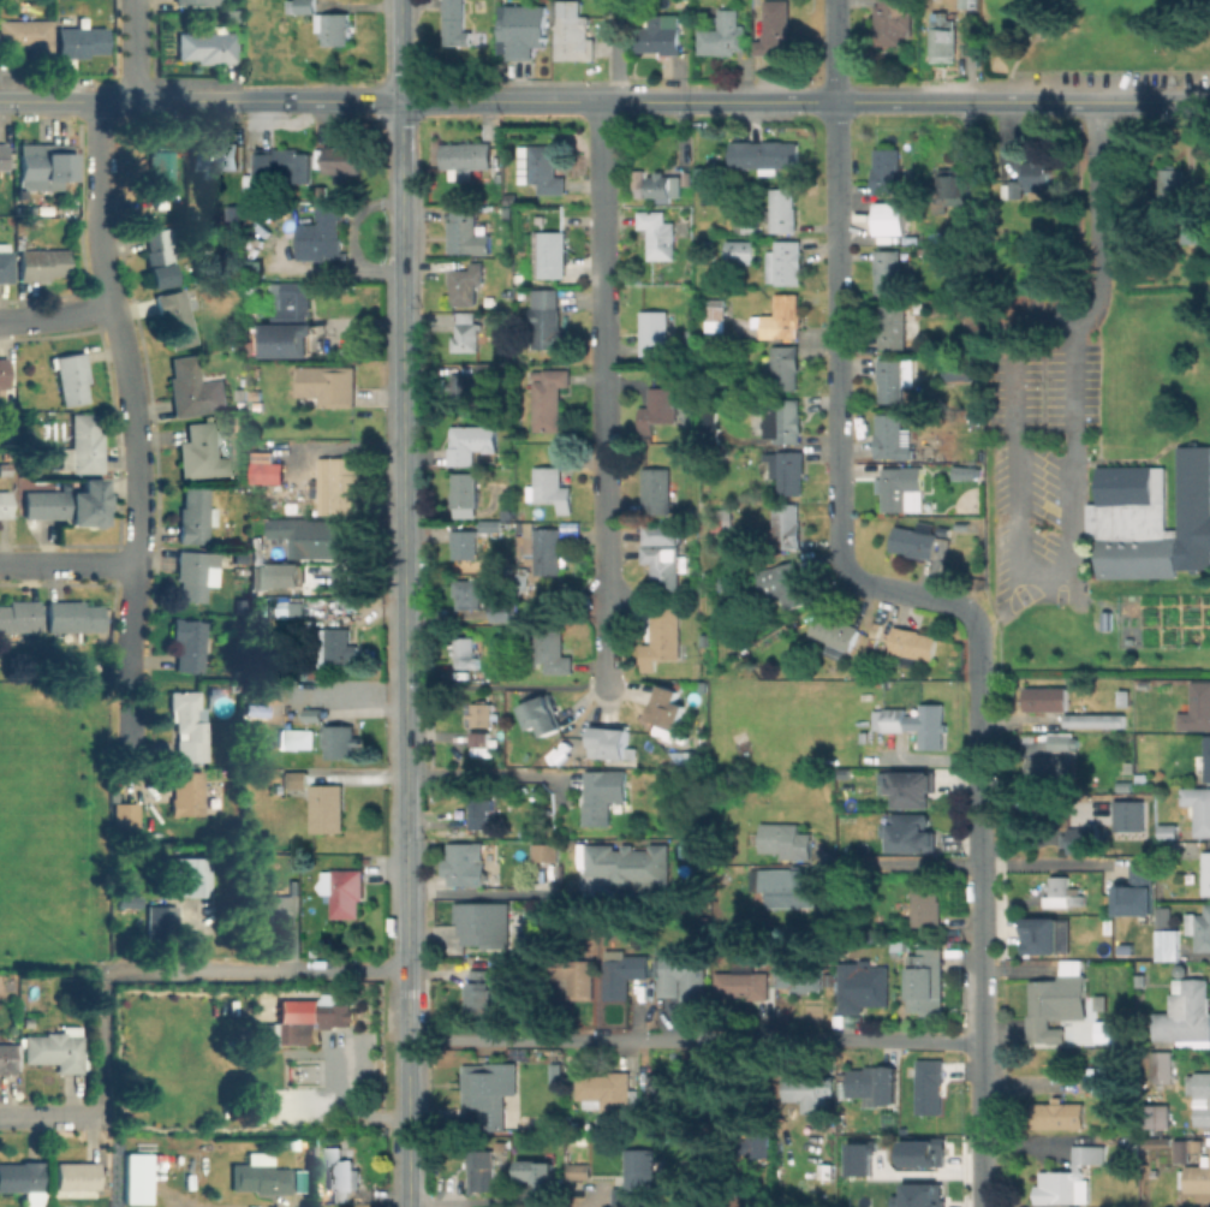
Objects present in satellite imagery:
building: (197, 0)
building: (485, 0)
building: (966, 4)
building: (302, 7)
building: (890, 20)
building: (455, 23)
building: (334, 26)
building: (775, 28)
building: (524, 30)
building: (26, 34)
building: (573, 34)
building: (725, 34)
building: (660, 36)
park: (1096, 37)
building: (81, 41)
building: (943, 41)
building: (207, 46)
road: (1027, 46)
road: (136, 50)
road: (834, 50)
road: (618, 52)
road: (255, 101)
road: (559, 102)
road: (908, 102)
building: (2, 155)
building: (215, 155)
building: (466, 155)
building: (765, 156)
building: (344, 160)
building: (284, 163)
building: (46, 166)
building: (886, 168)
building: (544, 170)
building: (1039, 173)
building: (638, 177)
building: (687, 177)
building: (159, 179)
building: (323, 185)
building: (664, 186)
building: (1172, 186)
building: (1008, 190)
building: (948, 191)
building: (511, 198)
building: (236, 210)
building: (782, 210)
building: (890, 219)
building: (746, 226)
building: (960, 227)
road: (1099, 227)
building: (463, 230)
building: (256, 232)
building: (322, 233)
building: (657, 233)
building: (1193, 233)
building: (740, 251)
building: (553, 254)
building: (160, 256)
building: (5, 262)
building: (785, 262)
building: (41, 263)
building: (312, 269)
building: (887, 270)
building: (466, 283)
building: (716, 311)
road: (55, 314)
building: (783, 316)
building: (174, 319)
building: (291, 321)
building: (549, 322)
building: (234, 323)
building: (893, 326)
building: (655, 332)
building: (751, 332)
building: (466, 337)
building: (251, 345)
road: (401, 356)
building: (489, 368)
building: (786, 368)
building: (958, 368)
building: (4, 371)
building: (71, 375)
building: (892, 380)
building: (327, 383)
road: (129, 387)
building: (463, 387)
road: (602, 387)
building: (193, 388)
building: (549, 398)
building: (661, 404)
road: (836, 418)
building: (240, 420)
building: (781, 422)
building: (709, 427)
building: (890, 436)
building: (471, 442)
building: (83, 445)
building: (201, 450)
building: (4, 468)
building: (264, 468)
building: (785, 470)
building: (964, 471)
building: (347, 483)
building: (901, 487)
building: (550, 488)
building: (657, 489)
building: (466, 494)
road: (1072, 494)
building: (315, 499)
building: (5, 503)
building: (59, 505)
building: (195, 515)
building: (1152, 516)
building: (717, 523)
building: (786, 524)
building: (961, 525)
building: (491, 528)
building: (660, 533)
building: (312, 537)
building: (917, 542)
building: (465, 543)
building: (546, 549)
building: (239, 555)
road: (67, 564)
building: (663, 567)
building: (196, 573)
building: (280, 573)
building: (785, 582)
building: (471, 594)
building: (793, 610)
building: (502, 611)
building: (18, 616)
building: (72, 617)
road: (991, 620)
road: (1128, 620)
building: (834, 629)
building: (663, 638)
building: (913, 642)
building: (191, 644)
building: (335, 647)
building: (548, 650)
building: (465, 654)
road: (606, 680)
building: (1047, 697)
building: (1122, 697)
building: (1197, 707)
building: (667, 708)
building: (314, 709)
building: (485, 714)
building: (544, 715)
building: (1096, 719)
road: (125, 721)
building: (918, 723)
building: (187, 724)
building: (479, 737)
building: (339, 741)
road: (405, 742)
building: (1060, 742)
building: (615, 745)
road: (977, 747)
building: (230, 748)
building: (1206, 757)
building: (230, 759)
road: (931, 760)
building: (1047, 767)
road: (482, 774)
building: (294, 777)
building: (1121, 785)
building: (275, 786)
building: (911, 790)
building: (185, 792)
road: (406, 795)
building: (604, 795)
building: (326, 807)
building: (1198, 807)
building: (483, 815)
building: (1129, 816)
building: (125, 817)
building: (1167, 831)
building: (911, 834)
building: (1084, 838)
building: (787, 839)
building: (1169, 849)
building: (547, 854)
road: (406, 856)
road: (908, 862)
road: (1045, 864)
building: (463, 867)
building: (633, 867)
building: (1206, 872)
building: (185, 880)
building: (783, 886)
building: (342, 890)
building: (1140, 891)
building: (1059, 892)
road: (493, 894)
building: (132, 902)
building: (925, 902)
road: (979, 904)
building: (276, 908)
building: (1166, 917)
building: (162, 922)
building: (485, 924)
building: (1199, 928)
building: (1045, 935)
building: (1168, 944)
building: (1128, 949)
road: (257, 971)
building: (795, 973)
building: (573, 974)
building: (624, 974)
building: (687, 974)
building: (744, 983)
building: (926, 983)
building: (863, 988)
building: (481, 991)
building: (1101, 1000)
building: (1057, 1004)
building: (338, 1013)
building: (1185, 1018)
building: (306, 1030)
building: (281, 1031)
building: (1107, 1033)
road: (695, 1039)
road: (100, 1044)
building: (54, 1048)
road: (407, 1050)
building: (6, 1058)
building: (1162, 1066)
building: (1104, 1077)
road: (982, 1080)
building: (872, 1083)
building: (673, 1084)
building: (929, 1084)
building: (529, 1089)
building: (805, 1090)
building: (608, 1092)
building: (490, 1093)
building: (1200, 1099)
road: (48, 1117)
building: (1060, 1117)
building: (1161, 1117)
building: (1155, 1141)
building: (759, 1147)
building: (1181, 1149)
building: (922, 1152)
building: (859, 1157)
building: (340, 1165)
building: (481, 1169)
building: (577, 1171)
road: (919, 1172)
building: (76, 1175)
building: (540, 1175)
building: (1067, 1175)
building: (1198, 1176)
building: (260, 1177)
building: (138, 1181)
building: (640, 1181)
building: (24, 1182)
building: (917, 1195)
road: (388, 1196)
road: (596, 1201)
road: (274, 1205)

